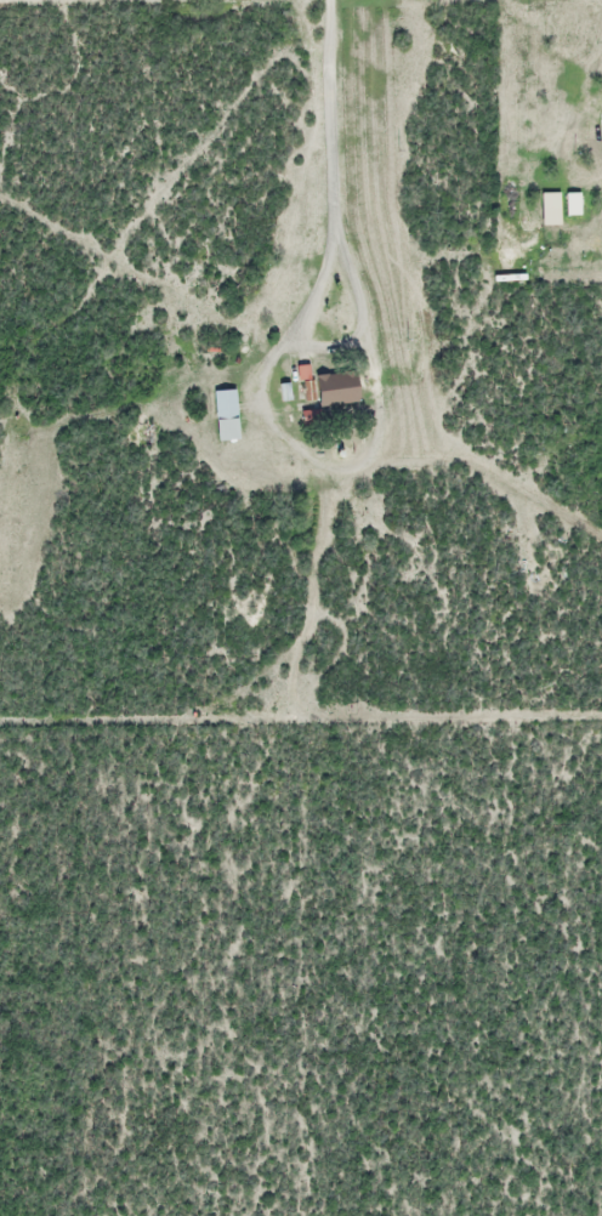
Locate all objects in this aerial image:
building: (326, 387)
building: (223, 415)

